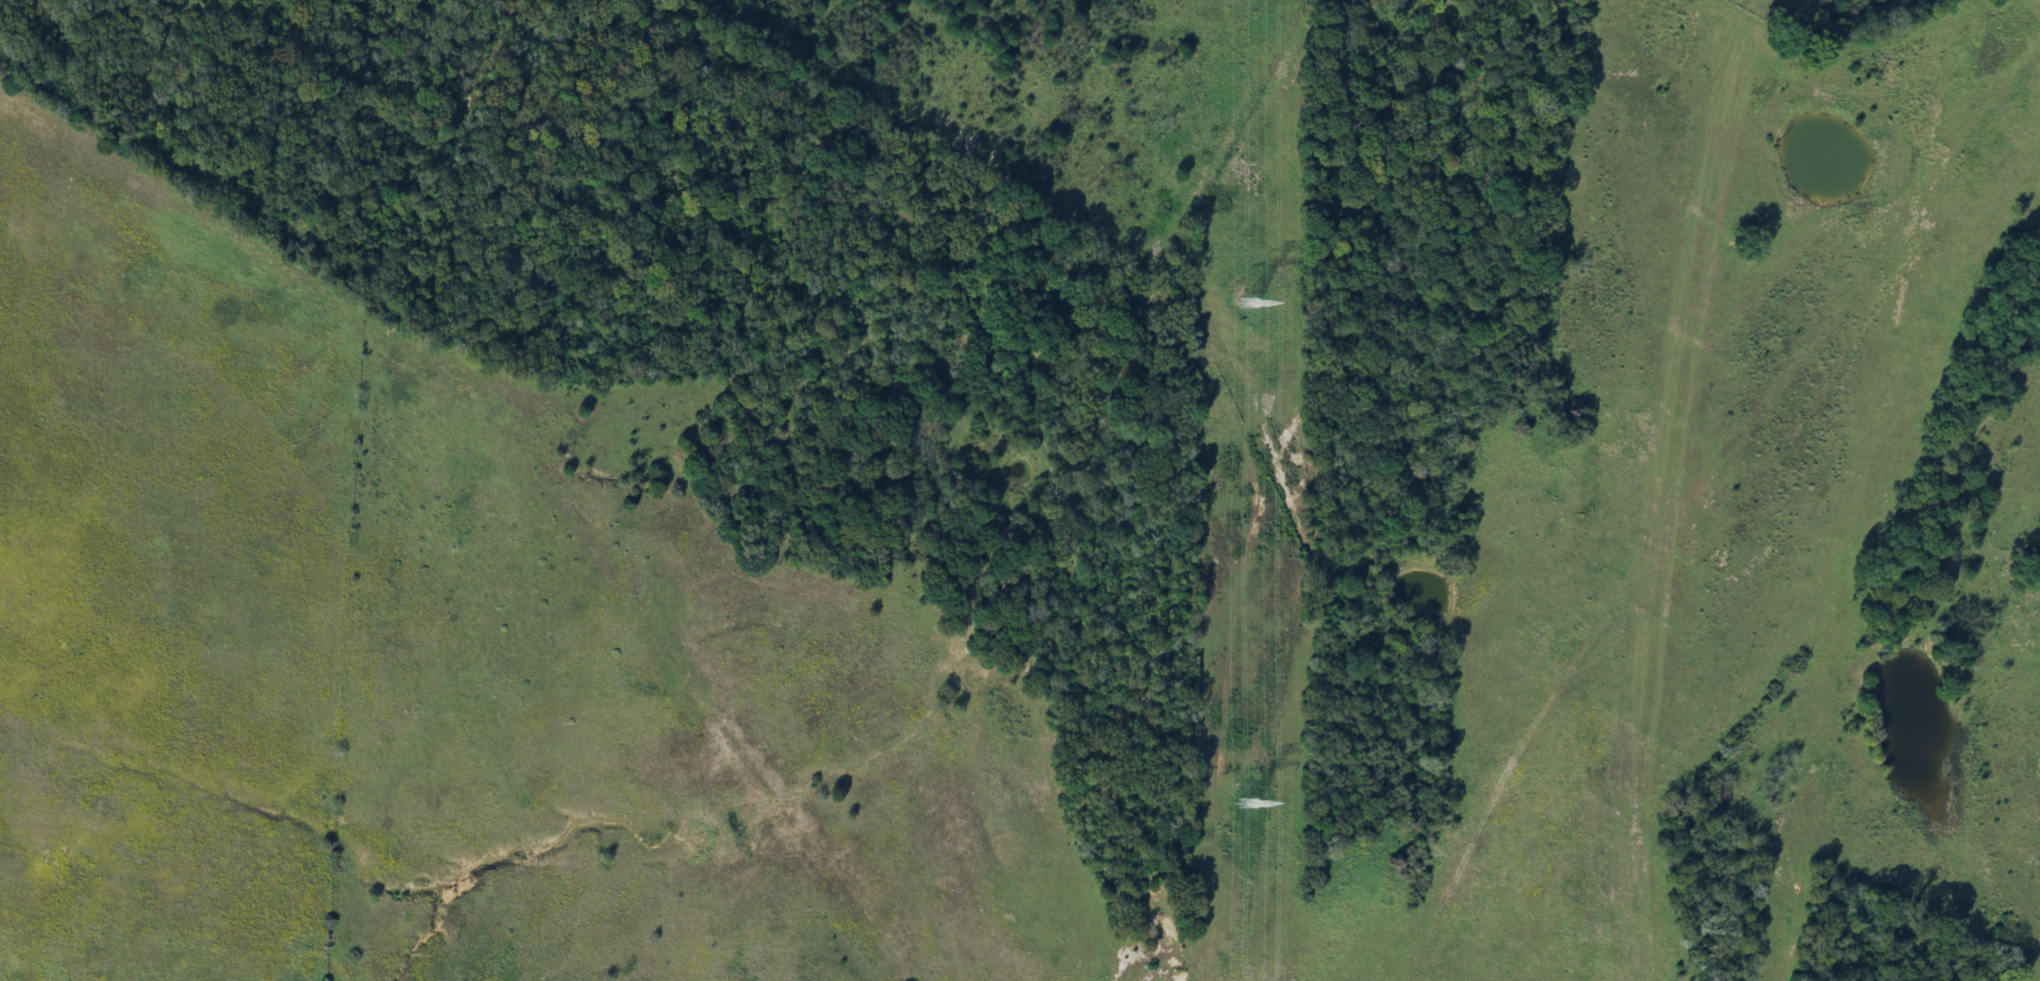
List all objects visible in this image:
power tower: (1248, 302)
power tower: (1247, 804)

